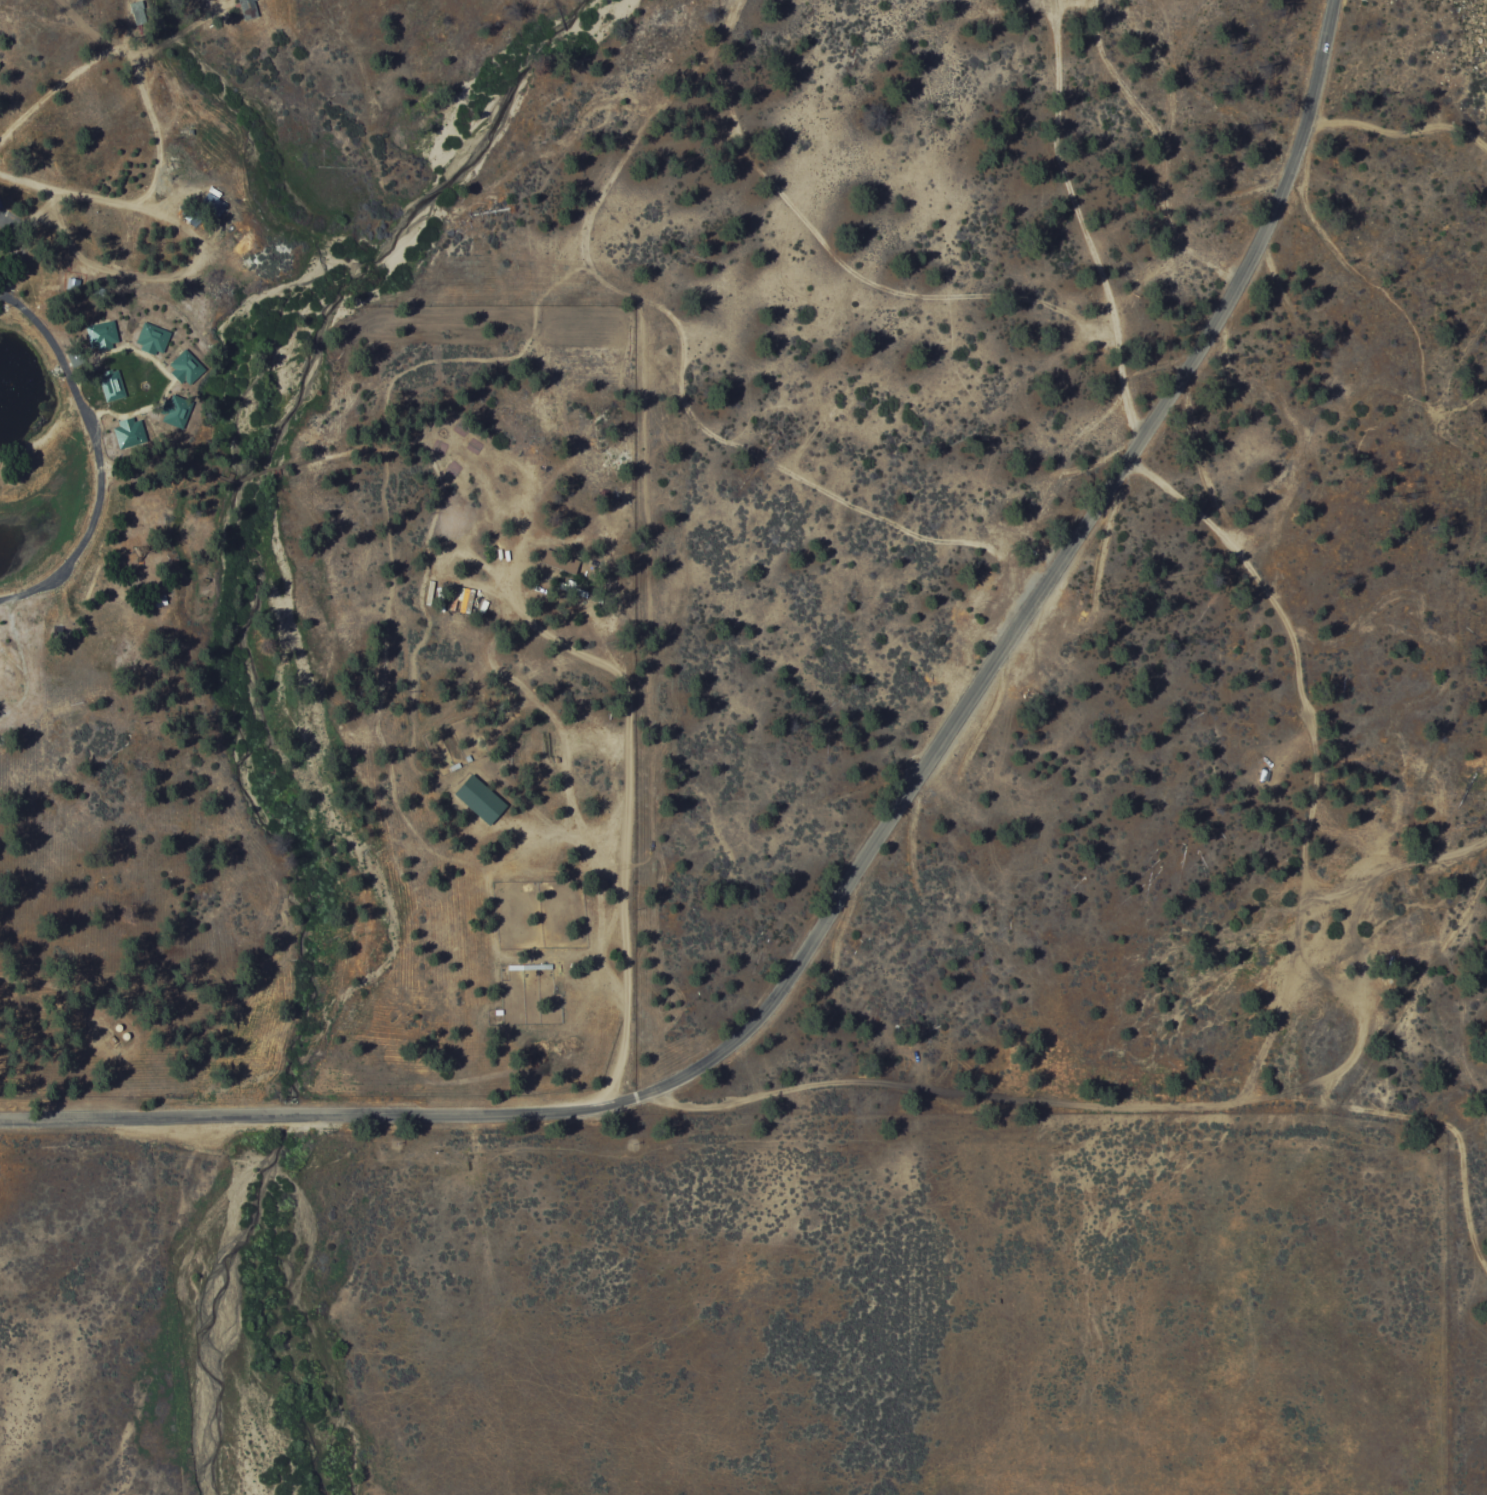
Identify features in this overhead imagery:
road: (1398, 135)
building: (213, 204)
road: (1083, 223)
road: (15, 277)
road: (39, 321)
building: (101, 336)
building: (151, 339)
road: (682, 362)
building: (185, 368)
building: (111, 386)
building: (174, 413)
building: (478, 801)
road: (871, 857)
road: (1271, 1035)
road: (1363, 1109)

